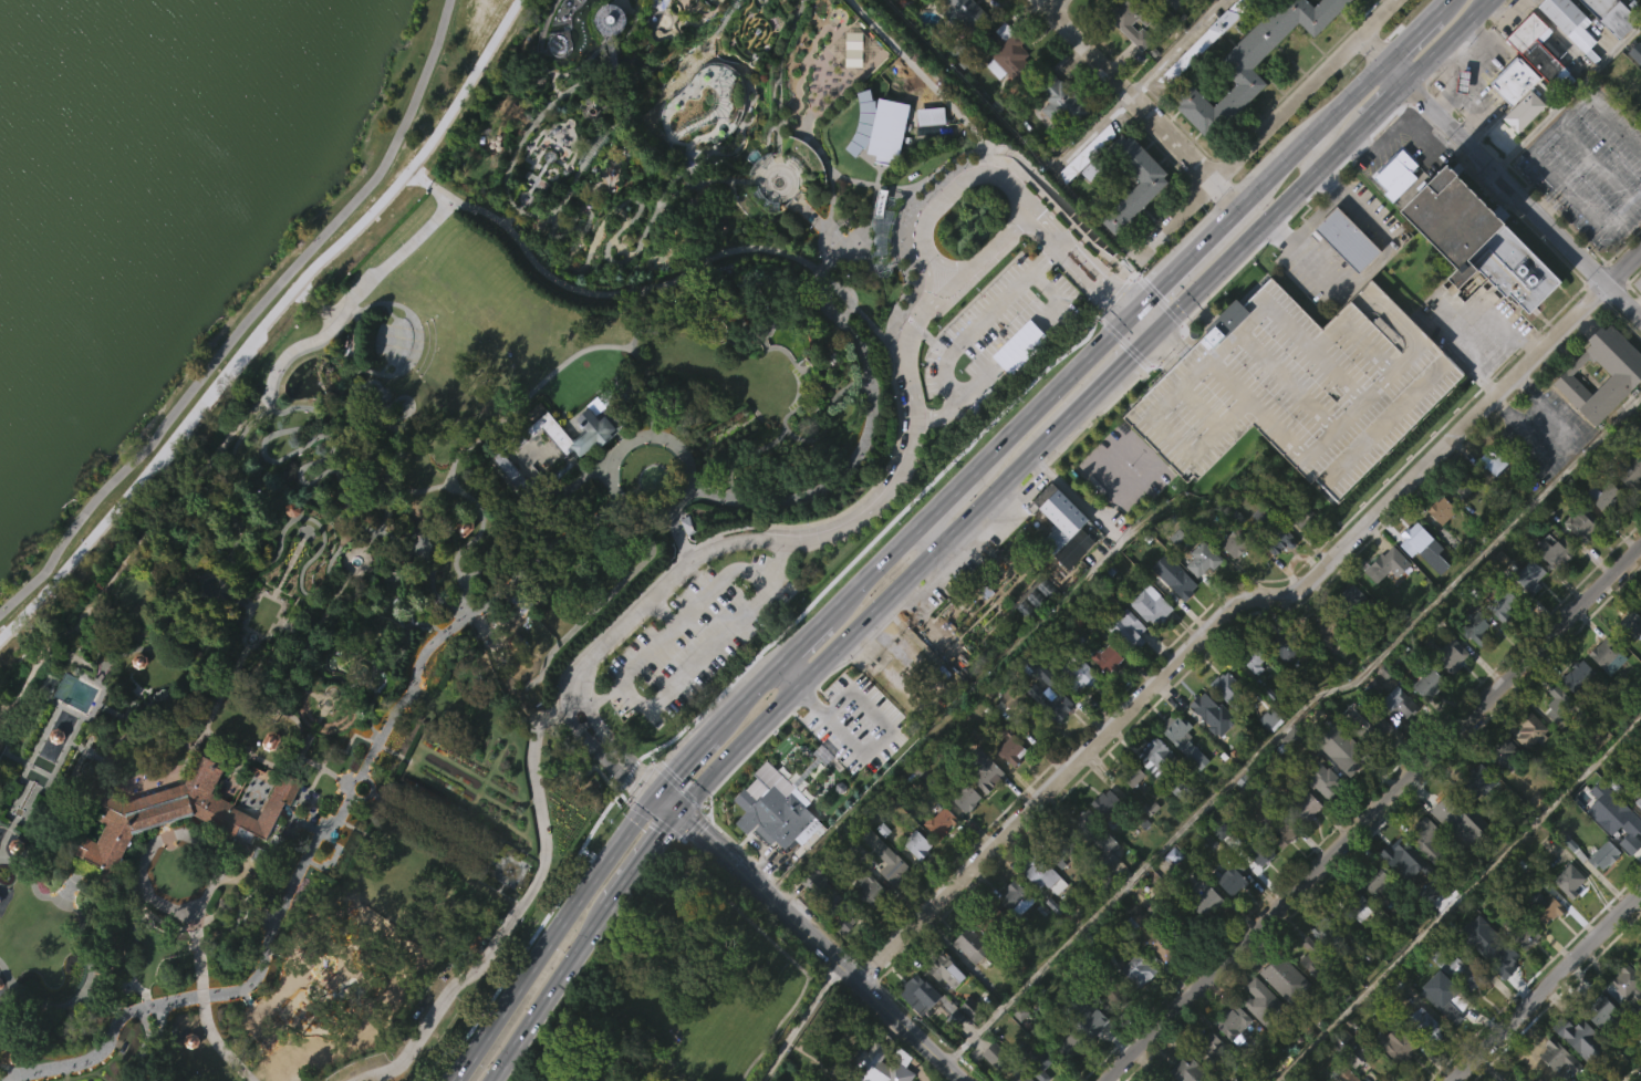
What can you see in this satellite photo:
building: (1172, 3)
road: (1053, 4)
building: (920, 6)
building: (963, 13)
road: (1502, 13)
building: (1610, 15)
building: (1130, 21)
building: (1569, 22)
building: (1245, 31)
building: (955, 38)
building: (1203, 40)
road: (1175, 46)
building: (1539, 48)
building: (1004, 54)
building: (1566, 55)
building: (1253, 61)
building: (1513, 79)
building: (1461, 81)
gas station: (1461, 81)
road: (1473, 82)
building: (1265, 83)
building: (851, 84)
building: (1634, 87)
building: (1004, 90)
building: (1187, 91)
road: (1566, 96)
road: (1450, 97)
building: (1058, 98)
road: (1140, 104)
building: (1523, 108)
building: (1458, 116)
road: (1264, 128)
road: (1092, 133)
building: (1059, 139)
road: (1392, 141)
road: (1319, 146)
building: (928, 152)
road: (1533, 152)
building: (876, 163)
building: (1079, 165)
building: (1394, 171)
road: (406, 174)
road: (1498, 176)
building: (1084, 188)
road: (1562, 188)
building: (1134, 194)
road: (946, 195)
building: (1396, 214)
building: (1133, 235)
building: (1344, 237)
building: (1475, 237)
road: (1363, 271)
road: (1032, 272)
building: (1343, 274)
building: (1475, 277)
road: (562, 283)
road: (1110, 283)
traffic signals: (1157, 290)
road: (944, 294)
traffic signals: (1103, 301)
road: (1637, 304)
road: (1108, 305)
road: (248, 322)
road: (1184, 330)
traffic signals: (1130, 356)
building: (1621, 367)
building: (1295, 384)
parking garage: (1295, 384)
road: (802, 387)
road: (951, 387)
road: (215, 391)
building: (1598, 409)
building: (592, 422)
road: (934, 425)
road: (510, 432)
building: (588, 444)
building: (1639, 448)
road: (681, 455)
building: (1491, 460)
park: (440, 468)
building: (1628, 470)
road: (340, 477)
road: (448, 478)
building: (1463, 484)
building: (1639, 484)
road: (444, 486)
building: (1491, 496)
building: (1603, 498)
building: (1440, 510)
building: (1055, 511)
building: (1294, 512)
road: (926, 519)
road: (964, 519)
building: (1614, 520)
building: (1580, 523)
road: (848, 524)
park: (506, 531)
building: (1273, 532)
road: (931, 534)
building: (1412, 537)
road: (678, 538)
road: (143, 539)
building: (1087, 542)
building: (1235, 543)
building: (1439, 544)
road: (83, 548)
road: (360, 551)
building: (1555, 551)
building: (1302, 552)
building: (1059, 554)
building: (1198, 559)
building: (1578, 559)
road: (217, 563)
road: (288, 564)
building: (1383, 565)
road: (249, 570)
building: (1230, 571)
road: (682, 572)
building: (1530, 578)
building: (1171, 579)
building: (1422, 582)
building: (1071, 583)
building: (1550, 585)
road: (232, 593)
road: (241, 593)
road: (435, 593)
building: (1199, 594)
road: (769, 599)
building: (1037, 599)
building: (1349, 600)
building: (1383, 600)
road: (210, 601)
road: (1243, 601)
building: (1502, 602)
building: (1149, 605)
building: (1527, 611)
road: (664, 612)
building: (1176, 615)
road: (714, 623)
building: (1326, 625)
building: (1628, 626)
building: (1123, 627)
building: (1473, 628)
road: (264, 637)
building: (1500, 638)
building: (1149, 640)
building: (1285, 644)
road: (247, 646)
road: (123, 653)
building: (987, 654)
building: (1448, 654)
building: (1604, 655)
building: (1103, 658)
building: (1251, 658)
building: (1630, 658)
road: (298, 659)
building: (1474, 662)
building: (1125, 664)
building: (1036, 667)
building: (1076, 672)
road: (788, 675)
building: (1576, 675)
building: (1281, 682)
building: (1425, 683)
building: (1229, 689)
building: (1448, 689)
building: (927, 690)
building: (1606, 692)
building: (1104, 693)
building: (1251, 696)
building: (1050, 703)
building: (1556, 703)
building: (1395, 704)
building: (1201, 707)
road: (214, 709)
building: (1078, 710)
building: (1575, 710)
road: (1286, 718)
building: (1426, 718)
building: (1224, 721)
road: (6, 727)
building: (1046, 727)
road: (599, 728)
building: (1007, 730)
building: (1529, 730)
road: (132, 731)
road: (580, 732)
building: (1175, 732)
building: (1374, 734)
building: (1393, 738)
building: (1554, 739)
building: (1202, 740)
building: (1006, 746)
road: (76, 747)
building: (1268, 753)
building: (1360, 755)
building: (1502, 755)
road: (326, 756)
building: (1346, 759)
building: (1527, 765)
building: (1175, 767)
building: (1161, 768)
road: (280, 770)
building: (983, 770)
traffic signals: (675, 771)
road: (326, 772)
road: (19, 779)
road: (87, 779)
building: (1474, 780)
building: (1321, 781)
road: (67, 782)
building: (1010, 783)
traffic signals: (630, 784)
building: (1504, 790)
building: (1153, 791)
road: (669, 800)
building: (1448, 801)
building: (1638, 801)
building: (1102, 802)
road: (664, 807)
building: (1305, 807)
building: (983, 809)
building: (172, 811)
building: (1132, 812)
road: (1371, 812)
building: (1321, 815)
building: (1477, 817)
building: (771, 820)
building: (939, 821)
traffic signals: (690, 825)
road: (667, 828)
building: (1624, 828)
road: (322, 829)
building: (1277, 829)
building: (963, 832)
traffic signals: (663, 833)
building: (1099, 835)
road: (6, 836)
road: (165, 838)
building: (1426, 838)
building: (1304, 841)
building: (1147, 842)
building: (916, 843)
building: (177, 846)
building: (1256, 849)
building: (1058, 850)
building: (1448, 851)
building: (1602, 855)
building: (938, 857)
building: (1396, 859)
building: (1218, 864)
building: (891, 867)
building: (1279, 869)
building: (1424, 873)
building: (1094, 874)
building: (1045, 875)
building: (915, 879)
building: (1570, 880)
building: (1228, 881)
building: (1374, 882)
building: (1256, 886)
road: (32, 887)
building: (870, 888)
building: (1601, 890)
building: (883, 891)
building: (820, 894)
building: (1395, 894)
building: (1010, 895)
building: (1351, 905)
building: (1546, 906)
road: (520, 907)
building: (1042, 911)
building: (1190, 911)
building: (1228, 915)
building: (1567, 915)
building: (1374, 916)
building: (813, 918)
building: (987, 921)
building: (868, 923)
building: (1010, 931)
building: (1521, 934)
building: (1151, 935)
building: (1204, 936)
building: (1356, 940)
building: (1540, 940)
building: (967, 945)
road: (820, 946)
building: (1319, 947)
road: (89, 957)
building: (943, 969)
building: (1135, 969)
building: (1456, 969)
building: (1521, 971)
building: (1487, 980)
building: (1623, 981)
building: (972, 983)
building: (1160, 983)
road: (11, 984)
road: (1547, 986)
building: (1108, 987)
building: (1271, 989)
building: (918, 990)
building: (1445, 1000)
road: (202, 1001)
building: (1135, 1005)
building: (943, 1007)
building: (1595, 1009)
building: (1281, 1014)
building: (1619, 1018)
road: (797, 1021)
building: (1091, 1021)
building: (1232, 1023)
building: (1424, 1025)
building: (916, 1028)
building: (1258, 1036)
building: (1580, 1040)
building: (1392, 1044)
building: (1067, 1046)
building: (1207, 1048)
building: (1346, 1048)
building: (1095, 1051)
building: (952, 1052)
building: (1552, 1054)
building: (1232, 1059)
building: (1423, 1059)
building: (1036, 1060)
building: (879, 1066)
road: (521, 1068)
building: (1008, 1069)
building: (1577, 1070)
building: (1186, 1071)
building: (1386, 1072)
building: (1068, 1073)
building: (1206, 1075)
building: (1346, 1075)
building: (1549, 1078)
building: (623, 1079)
building: (991, 1079)
building: (1030, 1079)

